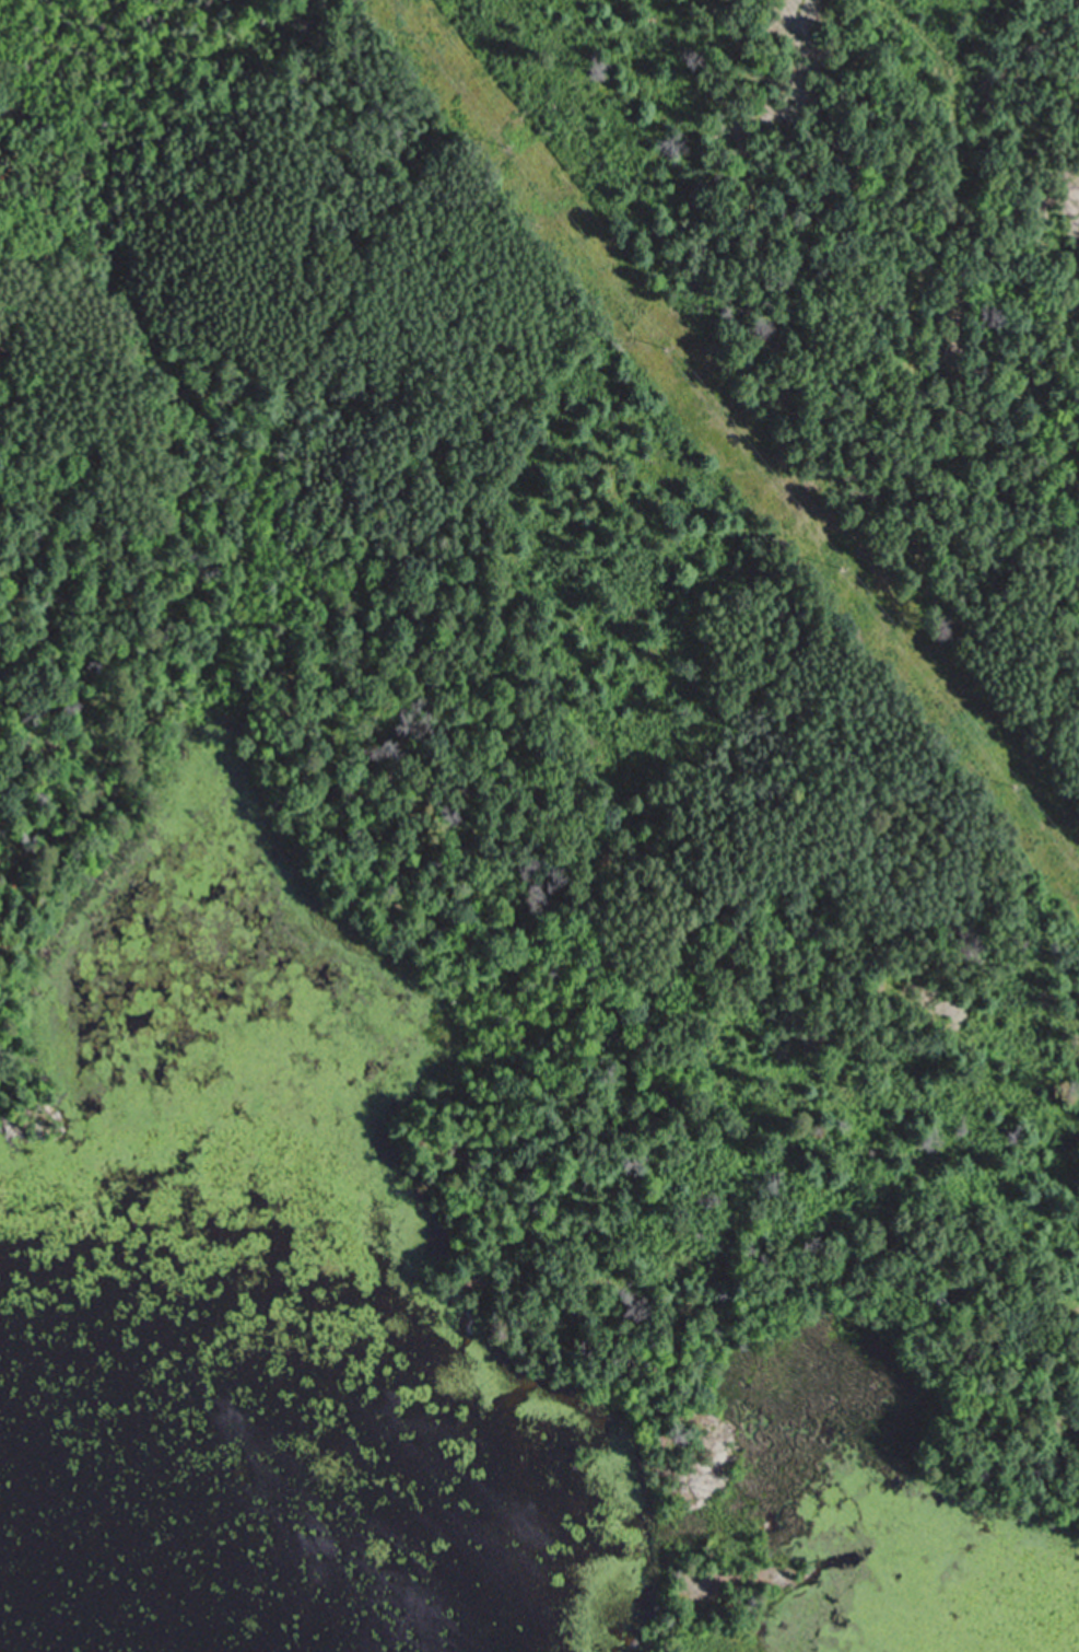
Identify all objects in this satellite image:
power tower: (507, 139)
power tower: (672, 348)
power tower: (845, 569)
road: (986, 691)
power tower: (1018, 788)

